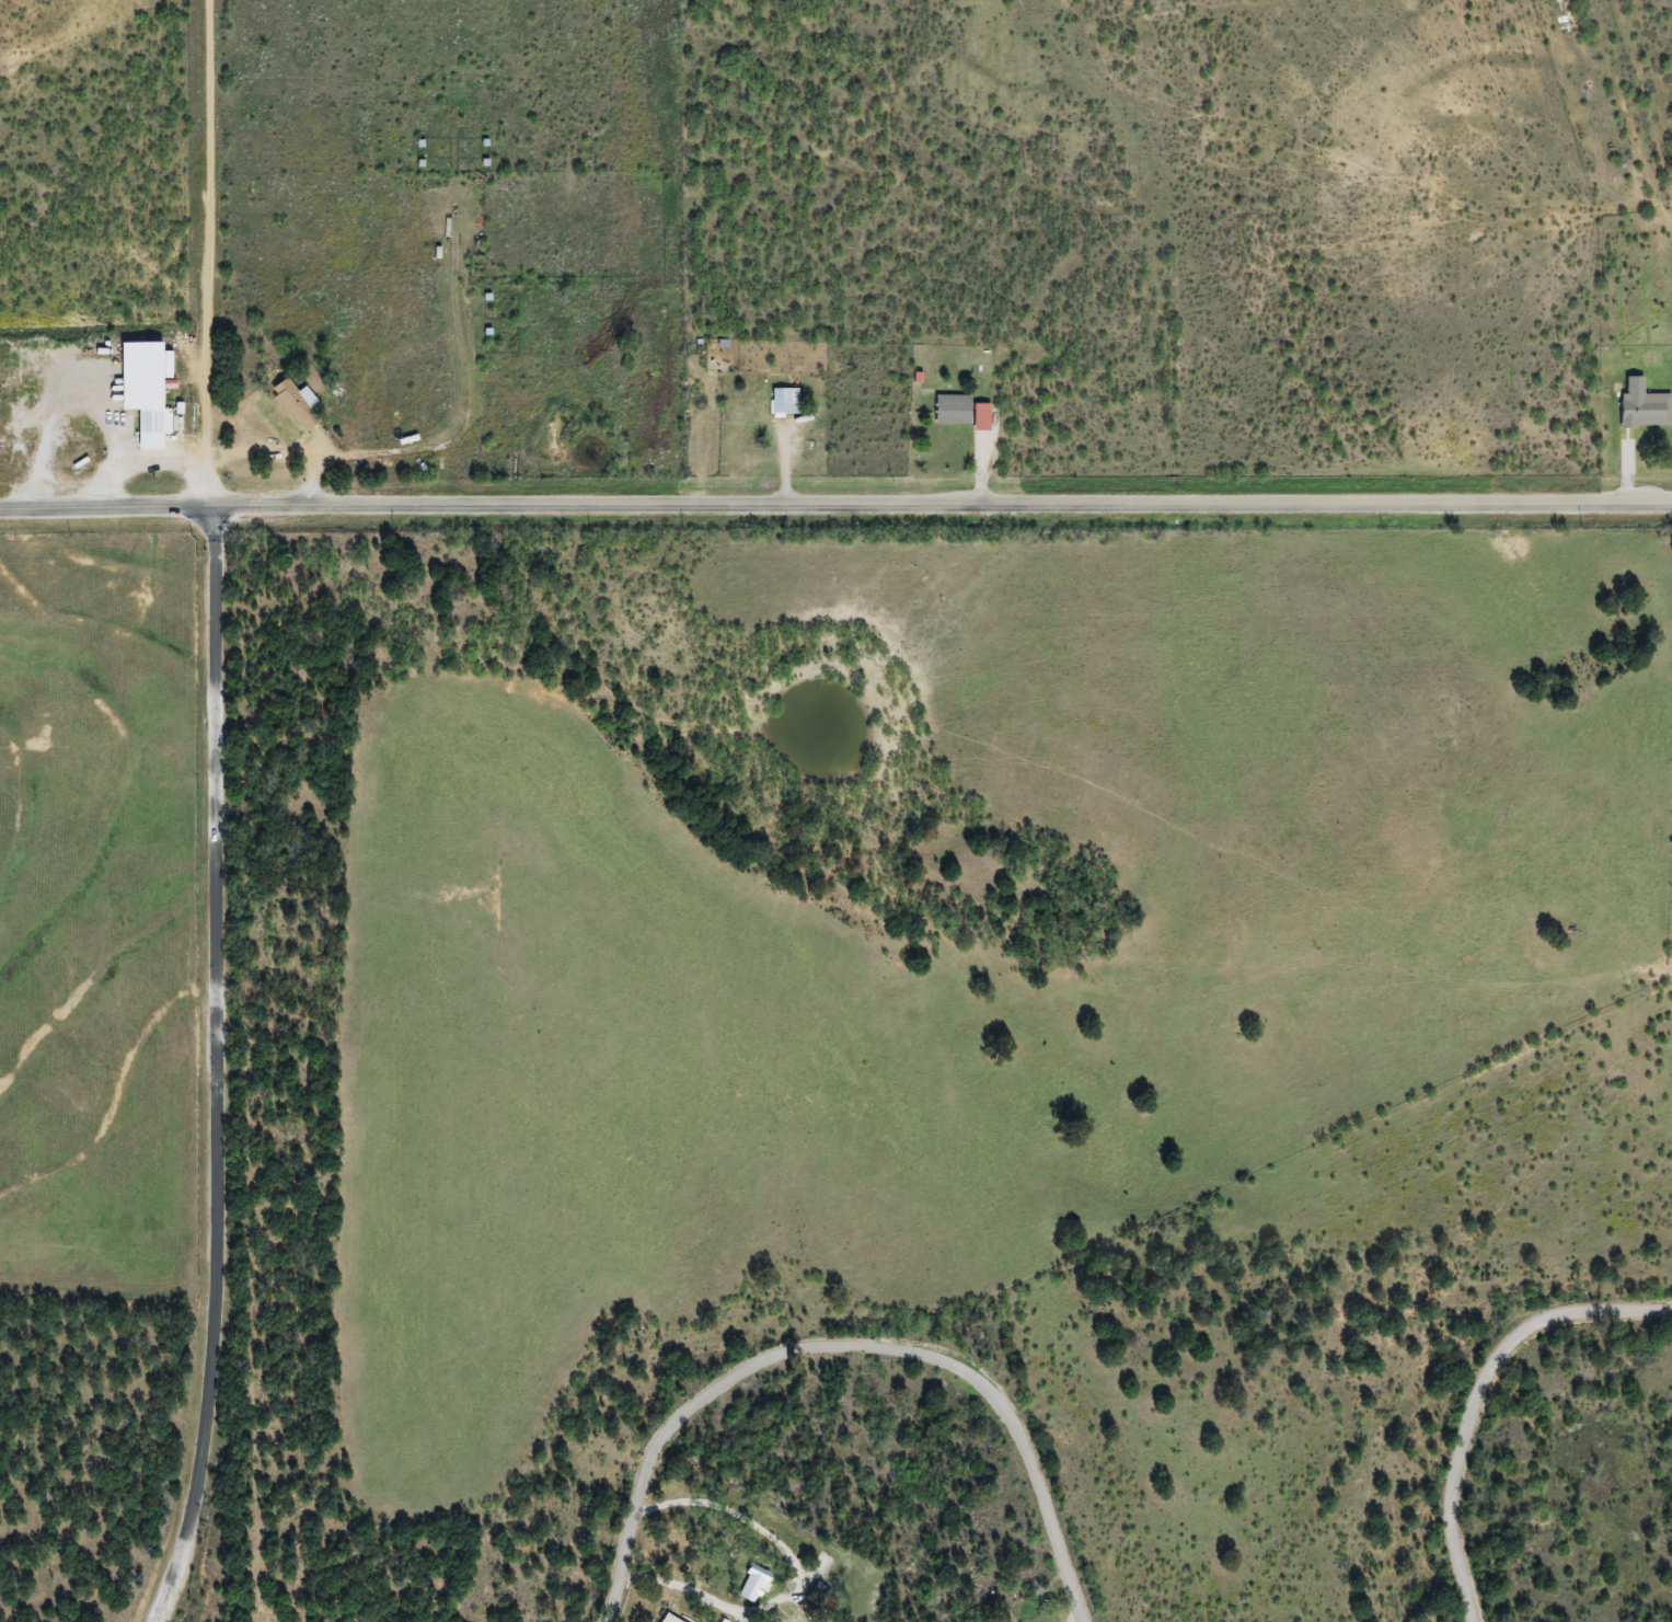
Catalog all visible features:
building: (170, 343)
building: (787, 402)
building: (300, 404)
building: (1642, 409)
building: (955, 410)
building: (982, 416)
building: (154, 429)
road: (835, 505)
road: (214, 1065)
road: (853, 1369)
road: (1497, 1407)
building: (823, 1565)
building: (756, 1587)

